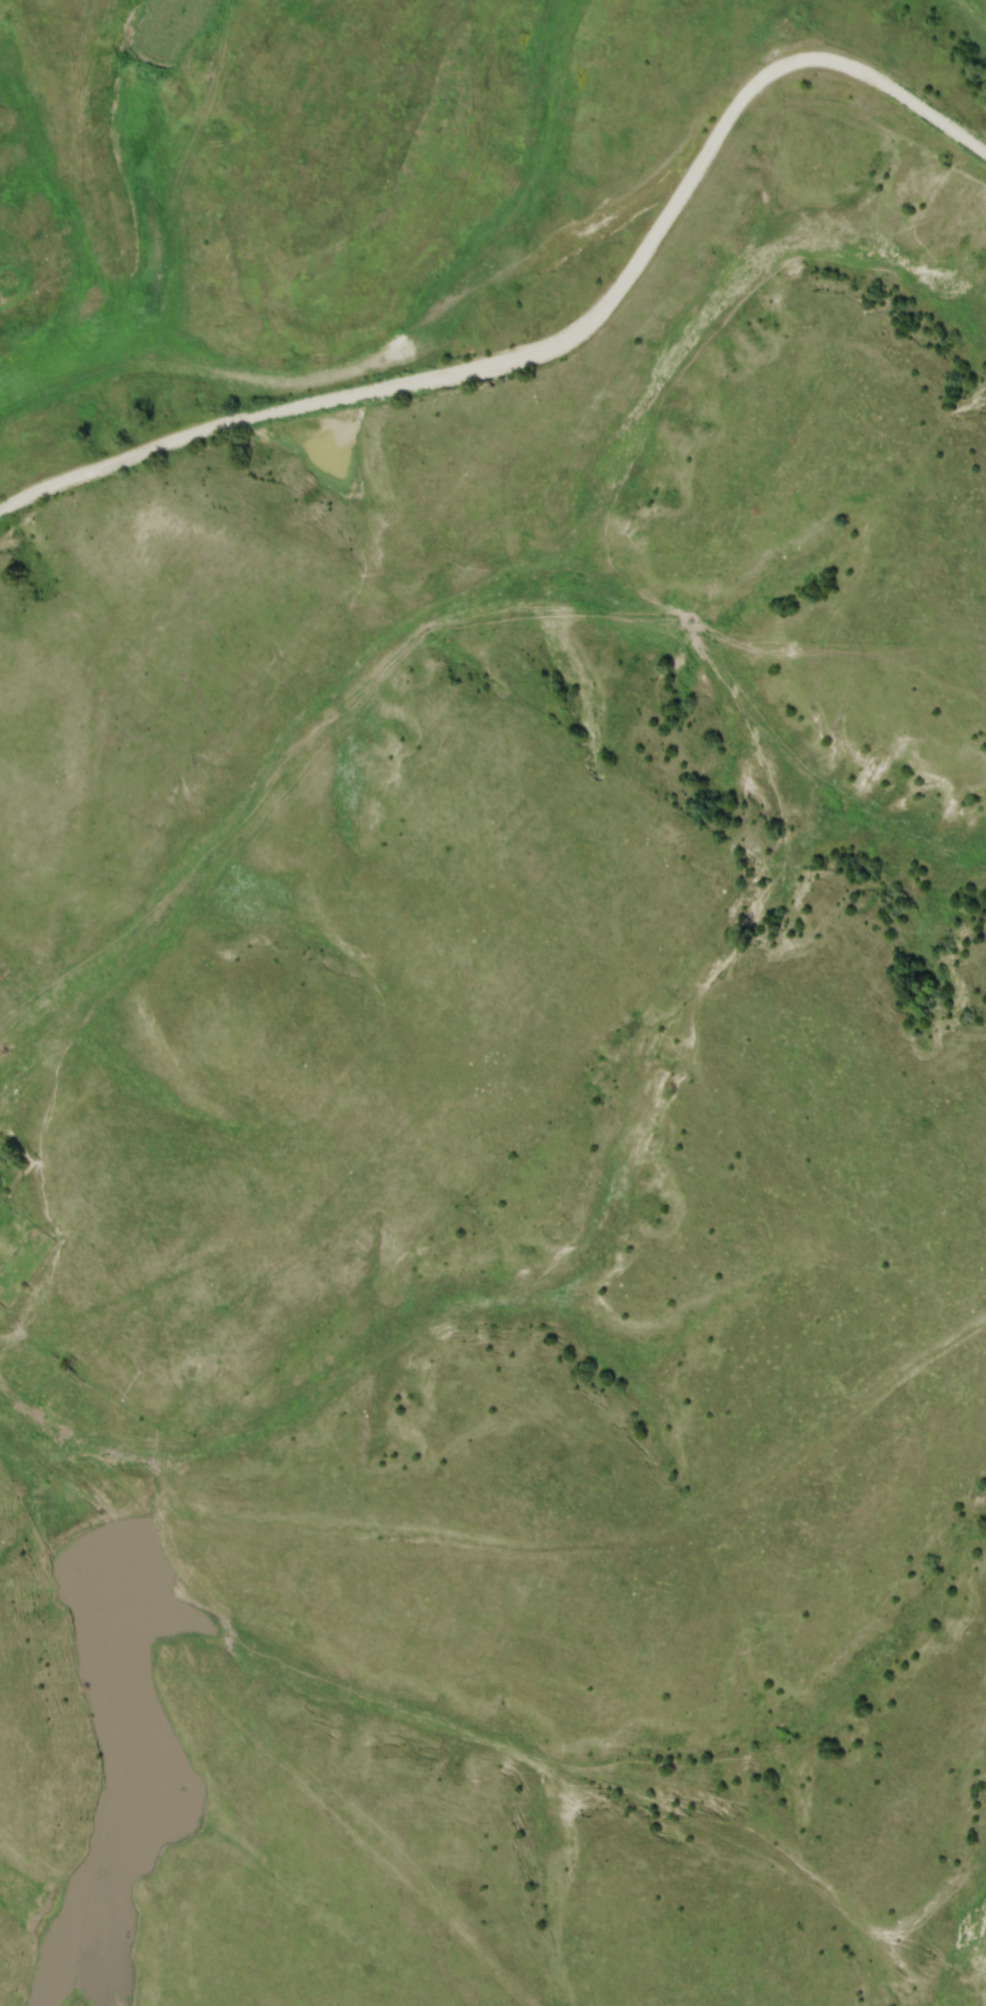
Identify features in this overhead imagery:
road: (559, 341)

